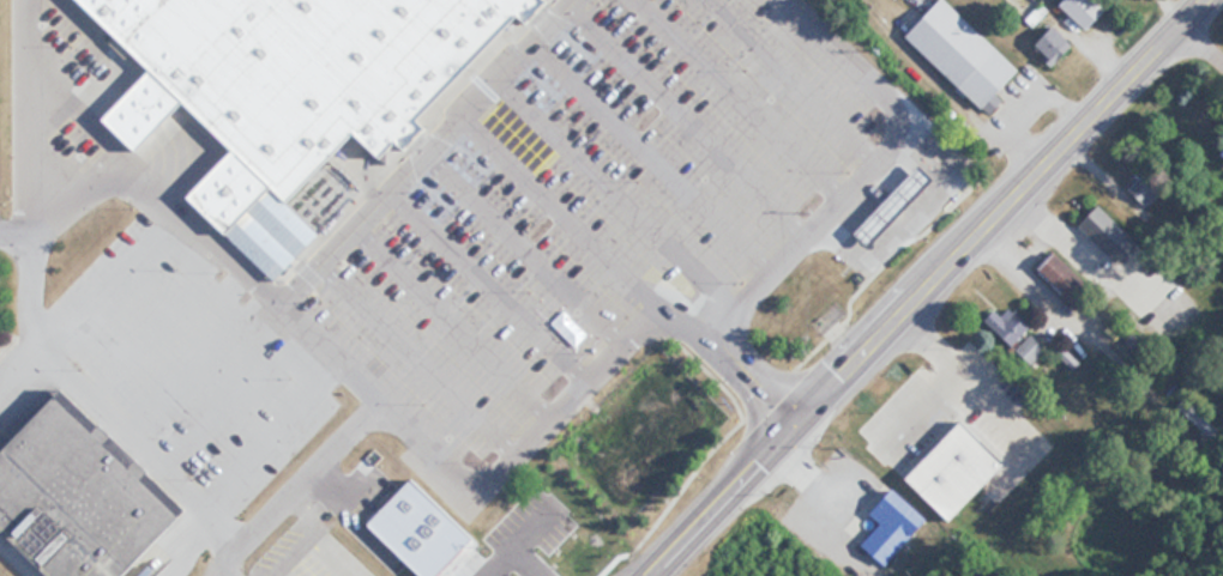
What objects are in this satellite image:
building: (1088, 10)
road: (1201, 41)
building: (1055, 42)
building: (965, 54)
building: (299, 74)
road: (799, 75)
road: (746, 93)
road: (23, 109)
road: (693, 113)
road: (656, 146)
road: (428, 148)
road: (860, 166)
road: (621, 184)
building: (1145, 189)
road: (562, 202)
building: (900, 205)
gas station: (900, 205)
road: (528, 240)
road: (1073, 253)
road: (490, 275)
building: (1067, 280)
road: (920, 286)
road: (1044, 296)
road: (454, 310)
road: (418, 348)
road: (406, 419)
road: (170, 461)
road: (819, 466)
building: (957, 471)
building: (85, 492)
building: (894, 527)
road: (230, 556)
building: (559, 564)
road: (652, 570)

